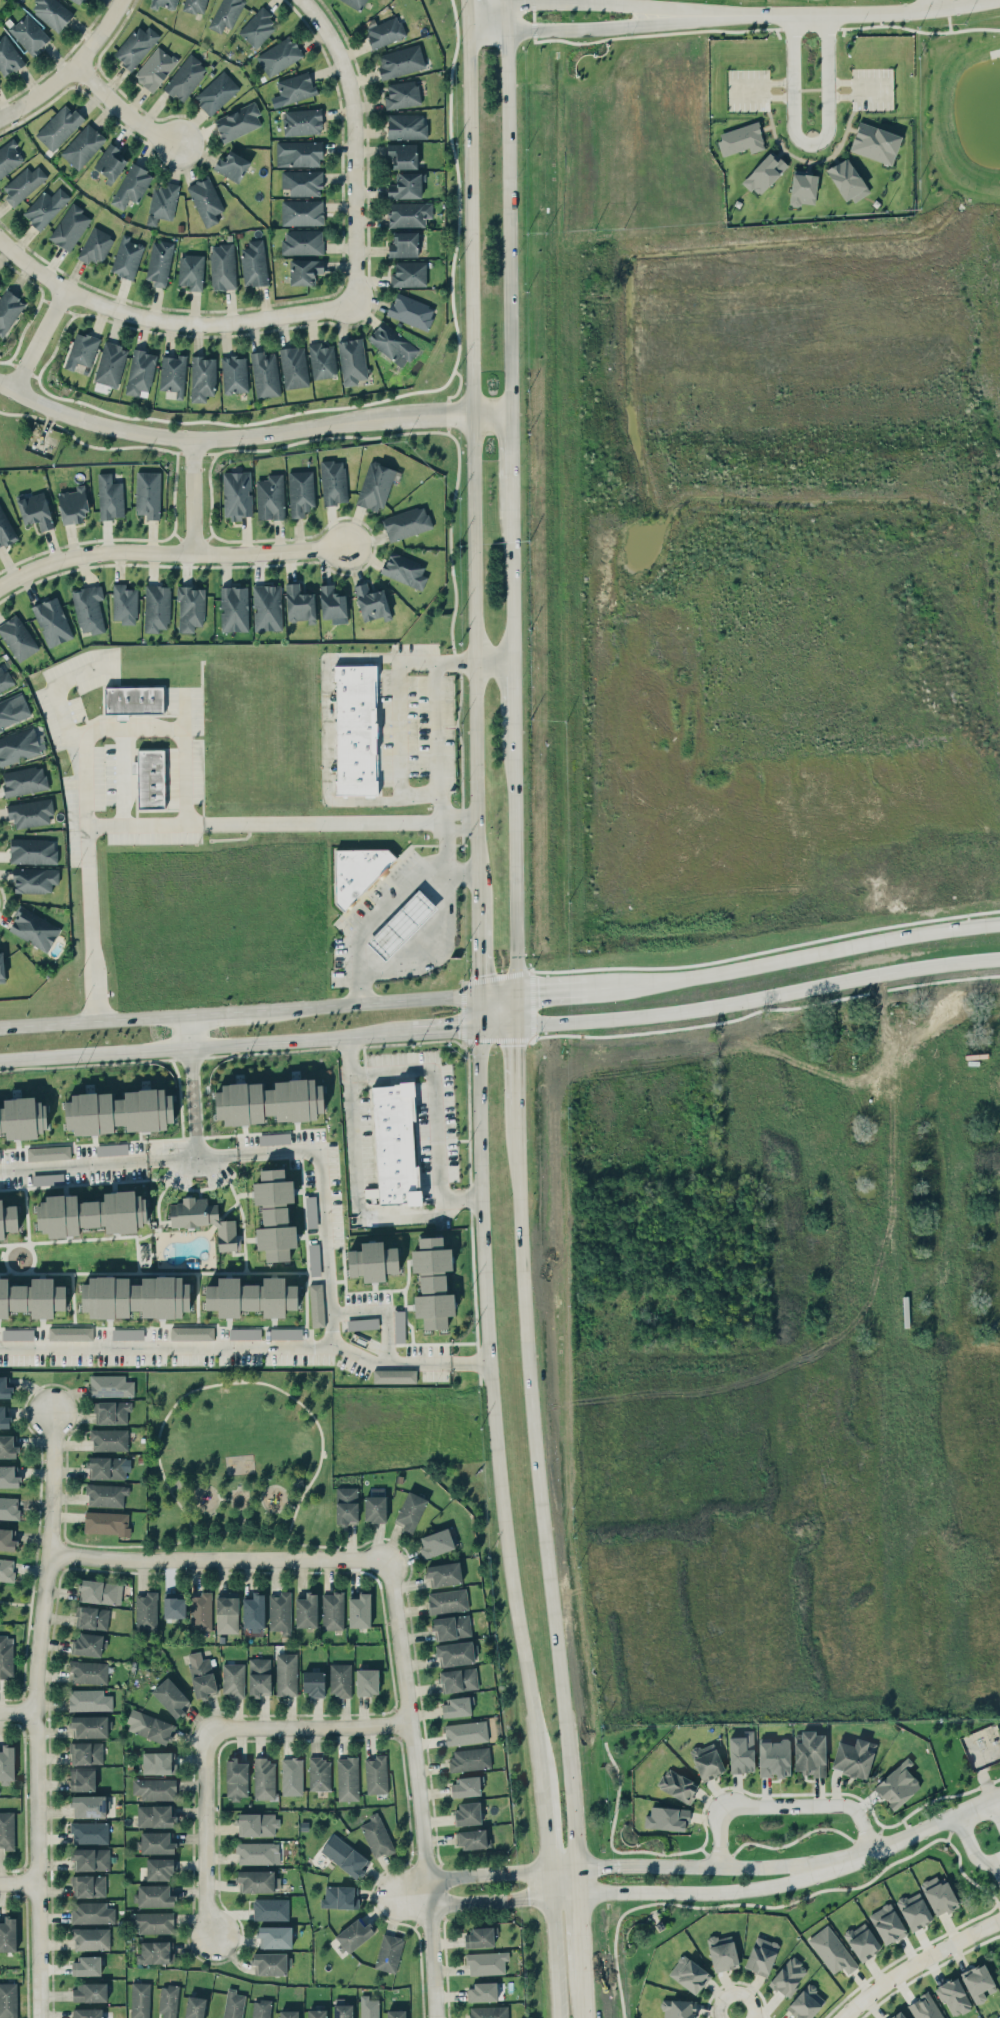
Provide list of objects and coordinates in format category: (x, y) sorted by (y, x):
building: (80, 1)
road: (594, 2)
building: (356, 3)
building: (165, 4)
road: (931, 4)
building: (194, 6)
road: (468, 8)
road: (485, 9)
building: (52, 12)
road: (834, 13)
building: (226, 14)
road: (948, 18)
building: (257, 27)
road: (913, 28)
road: (577, 29)
building: (385, 32)
building: (29, 34)
building: (136, 46)
building: (8, 56)
building: (279, 56)
building: (401, 61)
building: (155, 68)
road: (72, 70)
building: (185, 77)
parking lot: (872, 87)
building: (293, 89)
parking lot: (748, 89)
building: (216, 92)
building: (402, 94)
road: (124, 111)
building: (237, 122)
building: (302, 122)
building: (59, 126)
building: (406, 126)
building: (740, 139)
road: (810, 142)
building: (875, 143)
road: (359, 144)
building: (83, 146)
building: (298, 153)
building: (402, 155)
building: (9, 158)
building: (110, 162)
building: (232, 166)
building: (765, 173)
building: (847, 180)
building: (302, 182)
building: (23, 184)
building: (132, 185)
building: (406, 186)
building: (803, 189)
building: (205, 201)
building: (162, 202)
building: (46, 207)
road: (507, 207)
building: (302, 212)
building: (409, 214)
building: (70, 227)
building: (302, 242)
building: (403, 244)
building: (95, 246)
building: (126, 257)
building: (159, 262)
building: (254, 263)
building: (222, 266)
building: (191, 271)
building: (305, 271)
building: (408, 274)
building: (0, 286)
building: (9, 310)
building: (411, 311)
road: (168, 321)
road: (40, 339)
building: (392, 344)
building: (82, 350)
building: (322, 361)
building: (352, 361)
building: (110, 364)
building: (294, 367)
building: (140, 372)
building: (173, 374)
building: (234, 374)
building: (265, 374)
building: (202, 378)
road: (7, 385)
road: (260, 436)
road: (513, 447)
road: (476, 461)
building: (333, 481)
building: (375, 486)
building: (300, 492)
building: (148, 494)
building: (237, 494)
road: (193, 495)
building: (110, 496)
building: (270, 497)
building: (73, 504)
building: (35, 510)
building: (406, 523)
building: (5, 530)
road: (172, 551)
road: (515, 569)
building: (404, 570)
building: (371, 602)
building: (332, 603)
building: (124, 604)
building: (299, 604)
building: (267, 607)
building: (88, 608)
building: (156, 608)
building: (190, 608)
building: (234, 608)
building: (52, 621)
building: (17, 637)
building: (4, 678)
road: (55, 689)
road: (516, 692)
building: (133, 700)
building: (13, 710)
road: (437, 722)
road: (122, 728)
road: (399, 728)
building: (355, 729)
road: (326, 730)
building: (20, 746)
building: (149, 778)
building: (24, 780)
building: (30, 812)
road: (163, 826)
building: (32, 851)
road: (517, 858)
road: (444, 863)
building: (359, 872)
building: (34, 879)
road: (382, 912)
building: (401, 924)
building: (34, 928)
road: (416, 948)
road: (482, 951)
road: (759, 964)
building: (2, 968)
traffic signals: (517, 992)
road: (500, 993)
traffic signals: (483, 995)
road: (758, 997)
road: (366, 1003)
road: (516, 1008)
road: (481, 1012)
road: (219, 1013)
road: (94, 1021)
traffic signals: (515, 1025)
road: (497, 1027)
traffic signals: (480, 1029)
road: (446, 1031)
road: (206, 1047)
road: (516, 1064)
road: (434, 1095)
building: (269, 1101)
building: (119, 1111)
road: (194, 1111)
building: (22, 1117)
building: (274, 1138)
building: (394, 1146)
building: (111, 1148)
building: (48, 1152)
road: (217, 1154)
road: (72, 1164)
building: (47, 1178)
road: (354, 1193)
building: (311, 1211)
building: (91, 1213)
building: (274, 1214)
building: (8, 1219)
building: (203, 1219)
building: (314, 1259)
building: (372, 1261)
building: (432, 1282)
building: (135, 1296)
building: (32, 1297)
building: (251, 1297)
building: (316, 1305)
road: (380, 1311)
building: (362, 1323)
building: (399, 1326)
building: (70, 1333)
building: (127, 1333)
building: (192, 1333)
building: (244, 1333)
building: (285, 1333)
building: (17, 1334)
road: (304, 1345)
road: (391, 1359)
road: (471, 1360)
building: (394, 1376)
road: (241, 1382)
building: (111, 1385)
building: (5, 1387)
road: (495, 1410)
building: (111, 1412)
building: (4, 1418)
building: (109, 1439)
building: (8, 1446)
park: (238, 1459)
building: (106, 1467)
building: (8, 1477)
road: (540, 1483)
road: (205, 1485)
road: (265, 1489)
building: (106, 1494)
road: (225, 1497)
road: (255, 1497)
road: (188, 1505)
road: (292, 1505)
building: (346, 1505)
building: (9, 1507)
building: (374, 1508)
building: (410, 1511)
building: (104, 1522)
road: (198, 1534)
building: (7, 1539)
road: (351, 1540)
building: (437, 1543)
road: (218, 1558)
building: (6, 1569)
building: (444, 1574)
building: (100, 1591)
building: (447, 1601)
road: (22, 1603)
building: (174, 1604)
building: (306, 1610)
building: (332, 1610)
building: (359, 1610)
building: (146, 1611)
building: (200, 1611)
building: (253, 1611)
building: (226, 1612)
building: (280, 1612)
building: (92, 1617)
building: (451, 1627)
building: (89, 1644)
building: (455, 1653)
building: (6, 1656)
building: (89, 1672)
building: (286, 1674)
building: (201, 1675)
building: (259, 1676)
building: (233, 1679)
building: (340, 1679)
building: (459, 1679)
building: (366, 1681)
building: (313, 1683)
building: (171, 1697)
building: (89, 1700)
building: (456, 1706)
road: (18, 1711)
road: (36, 1713)
building: (89, 1726)
building: (150, 1726)
road: (308, 1728)
building: (465, 1733)
building: (86, 1752)
building: (742, 1752)
building: (809, 1753)
building: (853, 1757)
building: (774, 1758)
building: (469, 1759)
building: (707, 1761)
building: (158, 1762)
building: (7, 1764)
building: (319, 1773)
building: (376, 1774)
building: (291, 1776)
building: (236, 1778)
building: (264, 1778)
building: (347, 1778)
building: (82, 1779)
building: (677, 1785)
building: (897, 1785)
building: (466, 1786)
building: (155, 1789)
road: (420, 1790)
road: (780, 1803)
building: (88, 1806)
road: (995, 1806)
building: (467, 1813)
building: (155, 1816)
building: (666, 1818)
building: (257, 1824)
road: (929, 1825)
road: (546, 1828)
building: (7, 1830)
building: (89, 1832)
road: (206, 1834)
building: (376, 1835)
building: (473, 1838)
building: (156, 1842)
road: (971, 1845)
building: (256, 1852)
building: (344, 1855)
building: (90, 1858)
road: (998, 1861)
road: (564, 1864)
road: (718, 1865)
building: (160, 1868)
road: (579, 1877)
road: (551, 1879)
building: (256, 1880)
road: (21, 1881)
building: (88, 1885)
road: (721, 1890)
road: (566, 1892)
building: (154, 1895)
building: (939, 1895)
building: (340, 1897)
road: (390, 1897)
building: (270, 1909)
building: (914, 1910)
building: (91, 1912)
building: (152, 1922)
building: (887, 1923)
building: (8, 1934)
building: (354, 1934)
building: (275, 1936)
building: (479, 1937)
road: (582, 1937)
building: (90, 1938)
building: (862, 1941)
building: (831, 1950)
building: (155, 1952)
building: (389, 1952)
building: (722, 1952)
road: (556, 1955)
building: (761, 1955)
building: (486, 1962)
building: (271, 1963)
road: (917, 1963)
building: (86, 1965)
building: (689, 1974)
building: (788, 1976)
building: (978, 1983)
building: (90, 1991)
building: (483, 1991)
building: (953, 1997)
building: (8, 2000)
building: (140, 2000)
building: (168, 2001)
road: (584, 2001)
building: (806, 2002)
building: (233, 2004)
building: (194, 2007)
building: (368, 2007)
building: (925, 2007)
building: (260, 2008)
building: (678, 2008)
building: (342, 2009)
building: (488, 2011)
building: (88, 2013)
building: (316, 2013)
building: (395, 2013)
building: (288, 2014)
road: (740, 2014)
building: (897, 2015)

